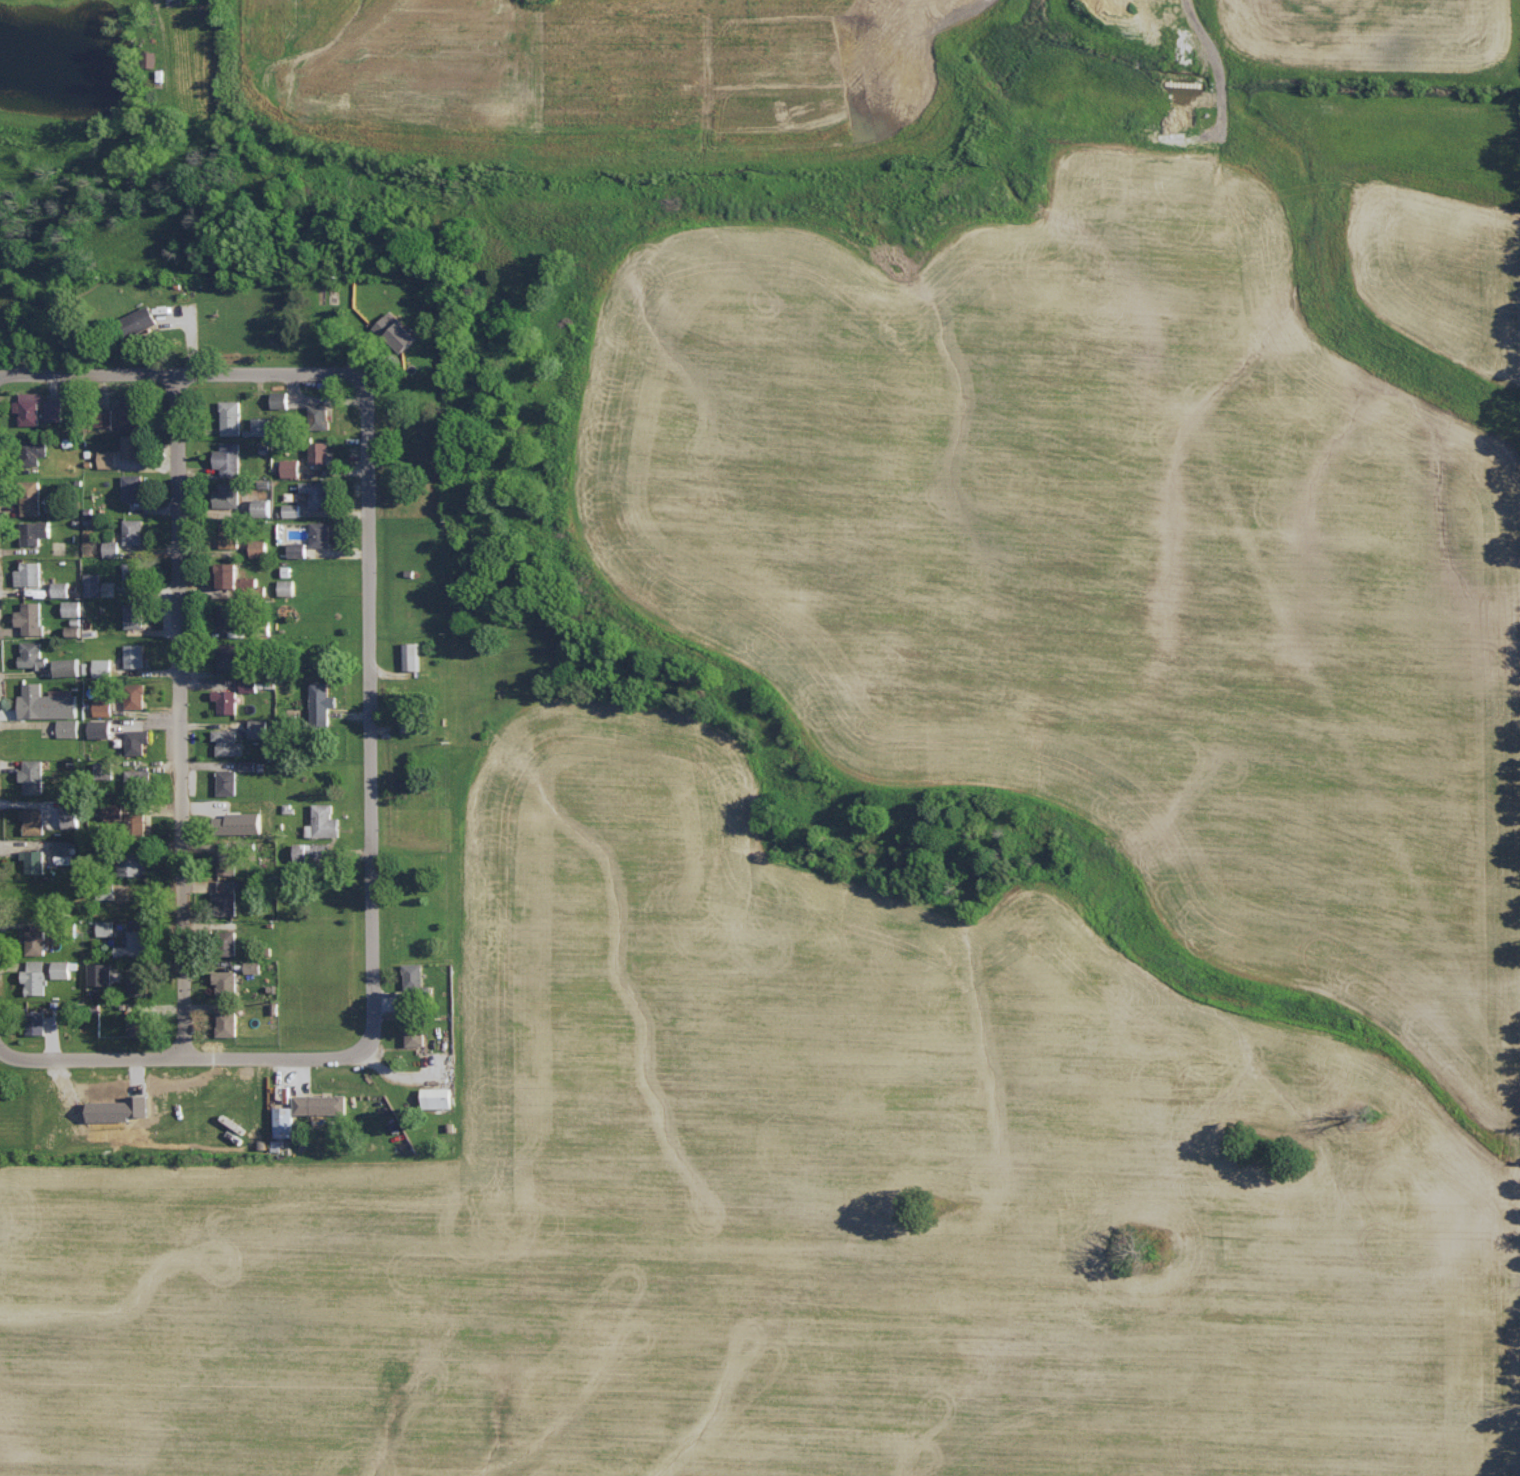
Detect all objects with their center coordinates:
building: (144, 319)
building: (402, 330)
road: (182, 374)
building: (281, 399)
building: (30, 407)
building: (55, 409)
building: (133, 410)
building: (320, 412)
building: (232, 417)
building: (262, 425)
building: (134, 446)
building: (321, 456)
building: (110, 458)
building: (230, 458)
building: (293, 467)
building: (134, 486)
building: (320, 493)
building: (233, 498)
building: (33, 506)
building: (265, 506)
building: (293, 509)
building: (37, 531)
building: (135, 531)
building: (322, 533)
building: (233, 536)
building: (260, 546)
building: (112, 548)
building: (298, 548)
building: (31, 573)
building: (135, 574)
building: (234, 575)
building: (94, 584)
building: (252, 584)
building: (288, 586)
building: (63, 588)
building: (75, 607)
building: (135, 615)
building: (236, 615)
building: (33, 617)
building: (78, 631)
building: (34, 654)
building: (136, 655)
building: (413, 655)
building: (70, 666)
building: (104, 666)
building: (251, 685)
building: (228, 700)
building: (138, 701)
building: (49, 702)
building: (323, 702)
building: (104, 706)
road: (180, 717)
road: (369, 719)
building: (415, 721)
building: (69, 727)
building: (102, 728)
building: (261, 728)
building: (139, 740)
building: (230, 742)
building: (35, 775)
building: (139, 779)
building: (229, 781)
building: (72, 816)
building: (138, 817)
building: (35, 819)
building: (328, 820)
building: (66, 850)
building: (314, 851)
building: (36, 859)
building: (136, 863)
building: (228, 896)
building: (107, 927)
building: (140, 938)
building: (38, 941)
building: (254, 966)
building: (62, 968)
building: (102, 972)
building: (36, 976)
building: (228, 981)
building: (139, 982)
building: (38, 1021)
building: (141, 1022)
building: (230, 1022)
building: (417, 1033)
road: (180, 1060)
building: (440, 1096)
building: (322, 1103)
building: (287, 1121)

